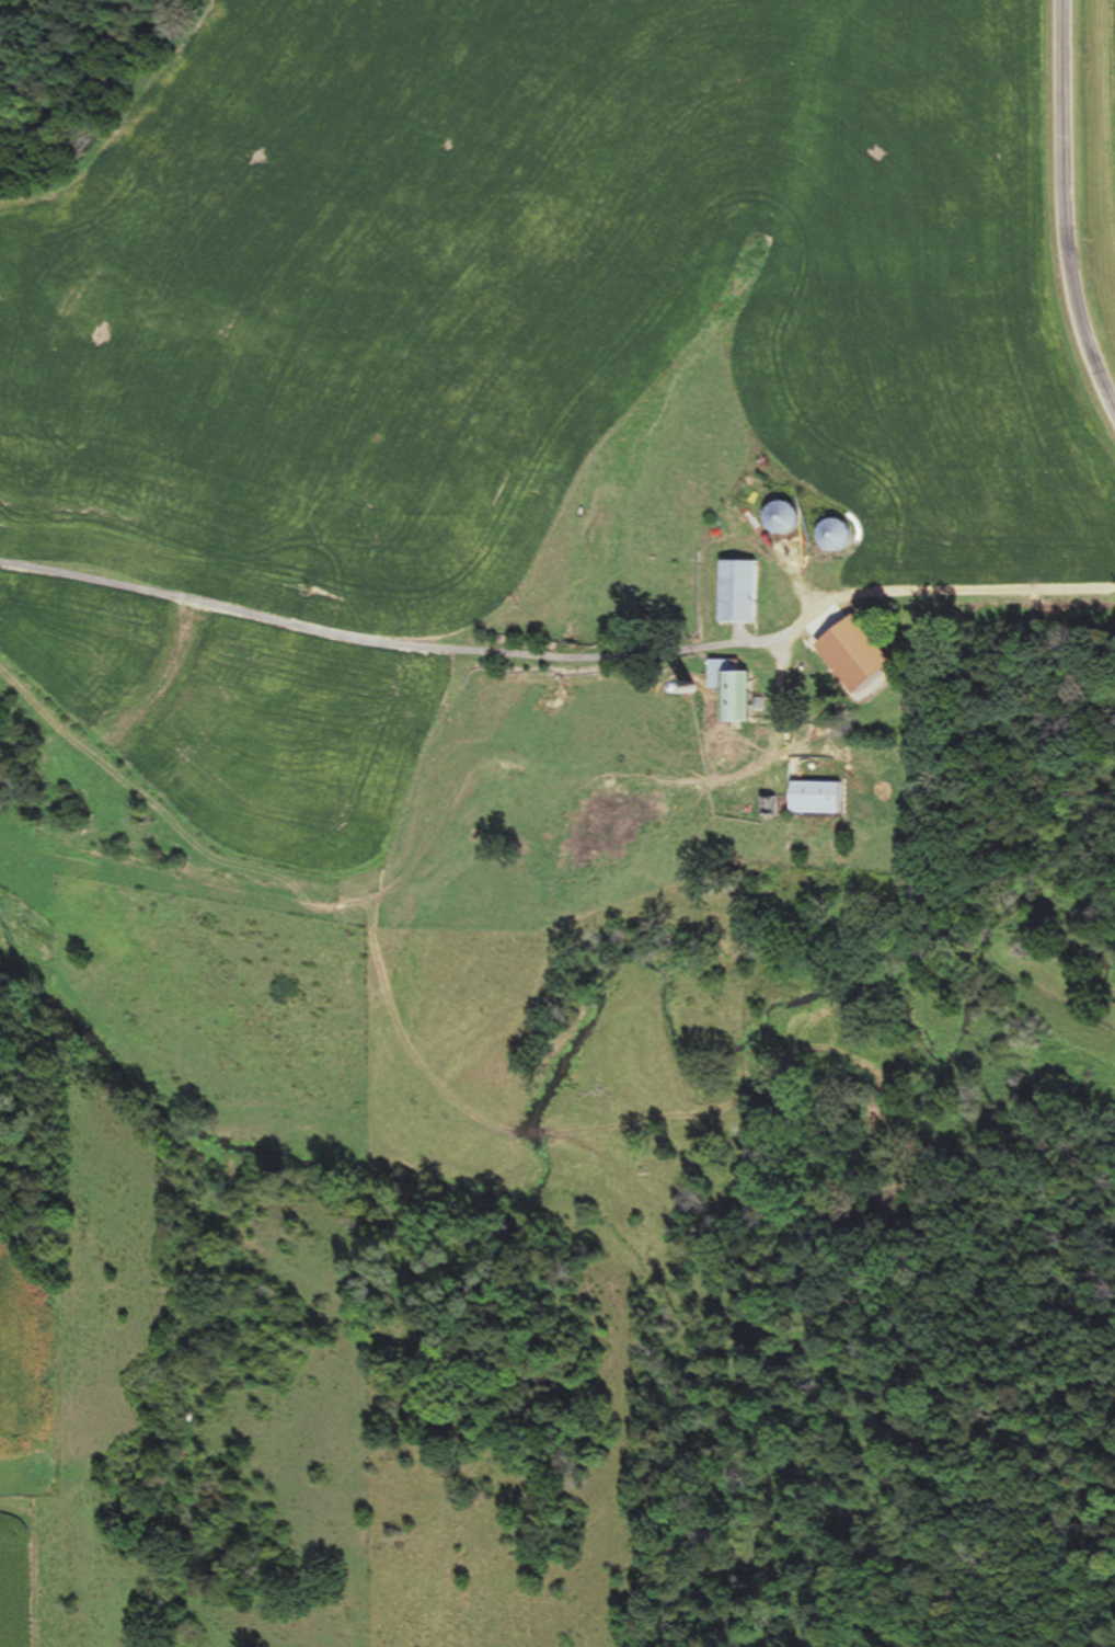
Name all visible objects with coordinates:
road: (1035, 252)
building: (782, 517)
road: (996, 579)
building: (740, 591)
building: (738, 688)
building: (820, 797)

